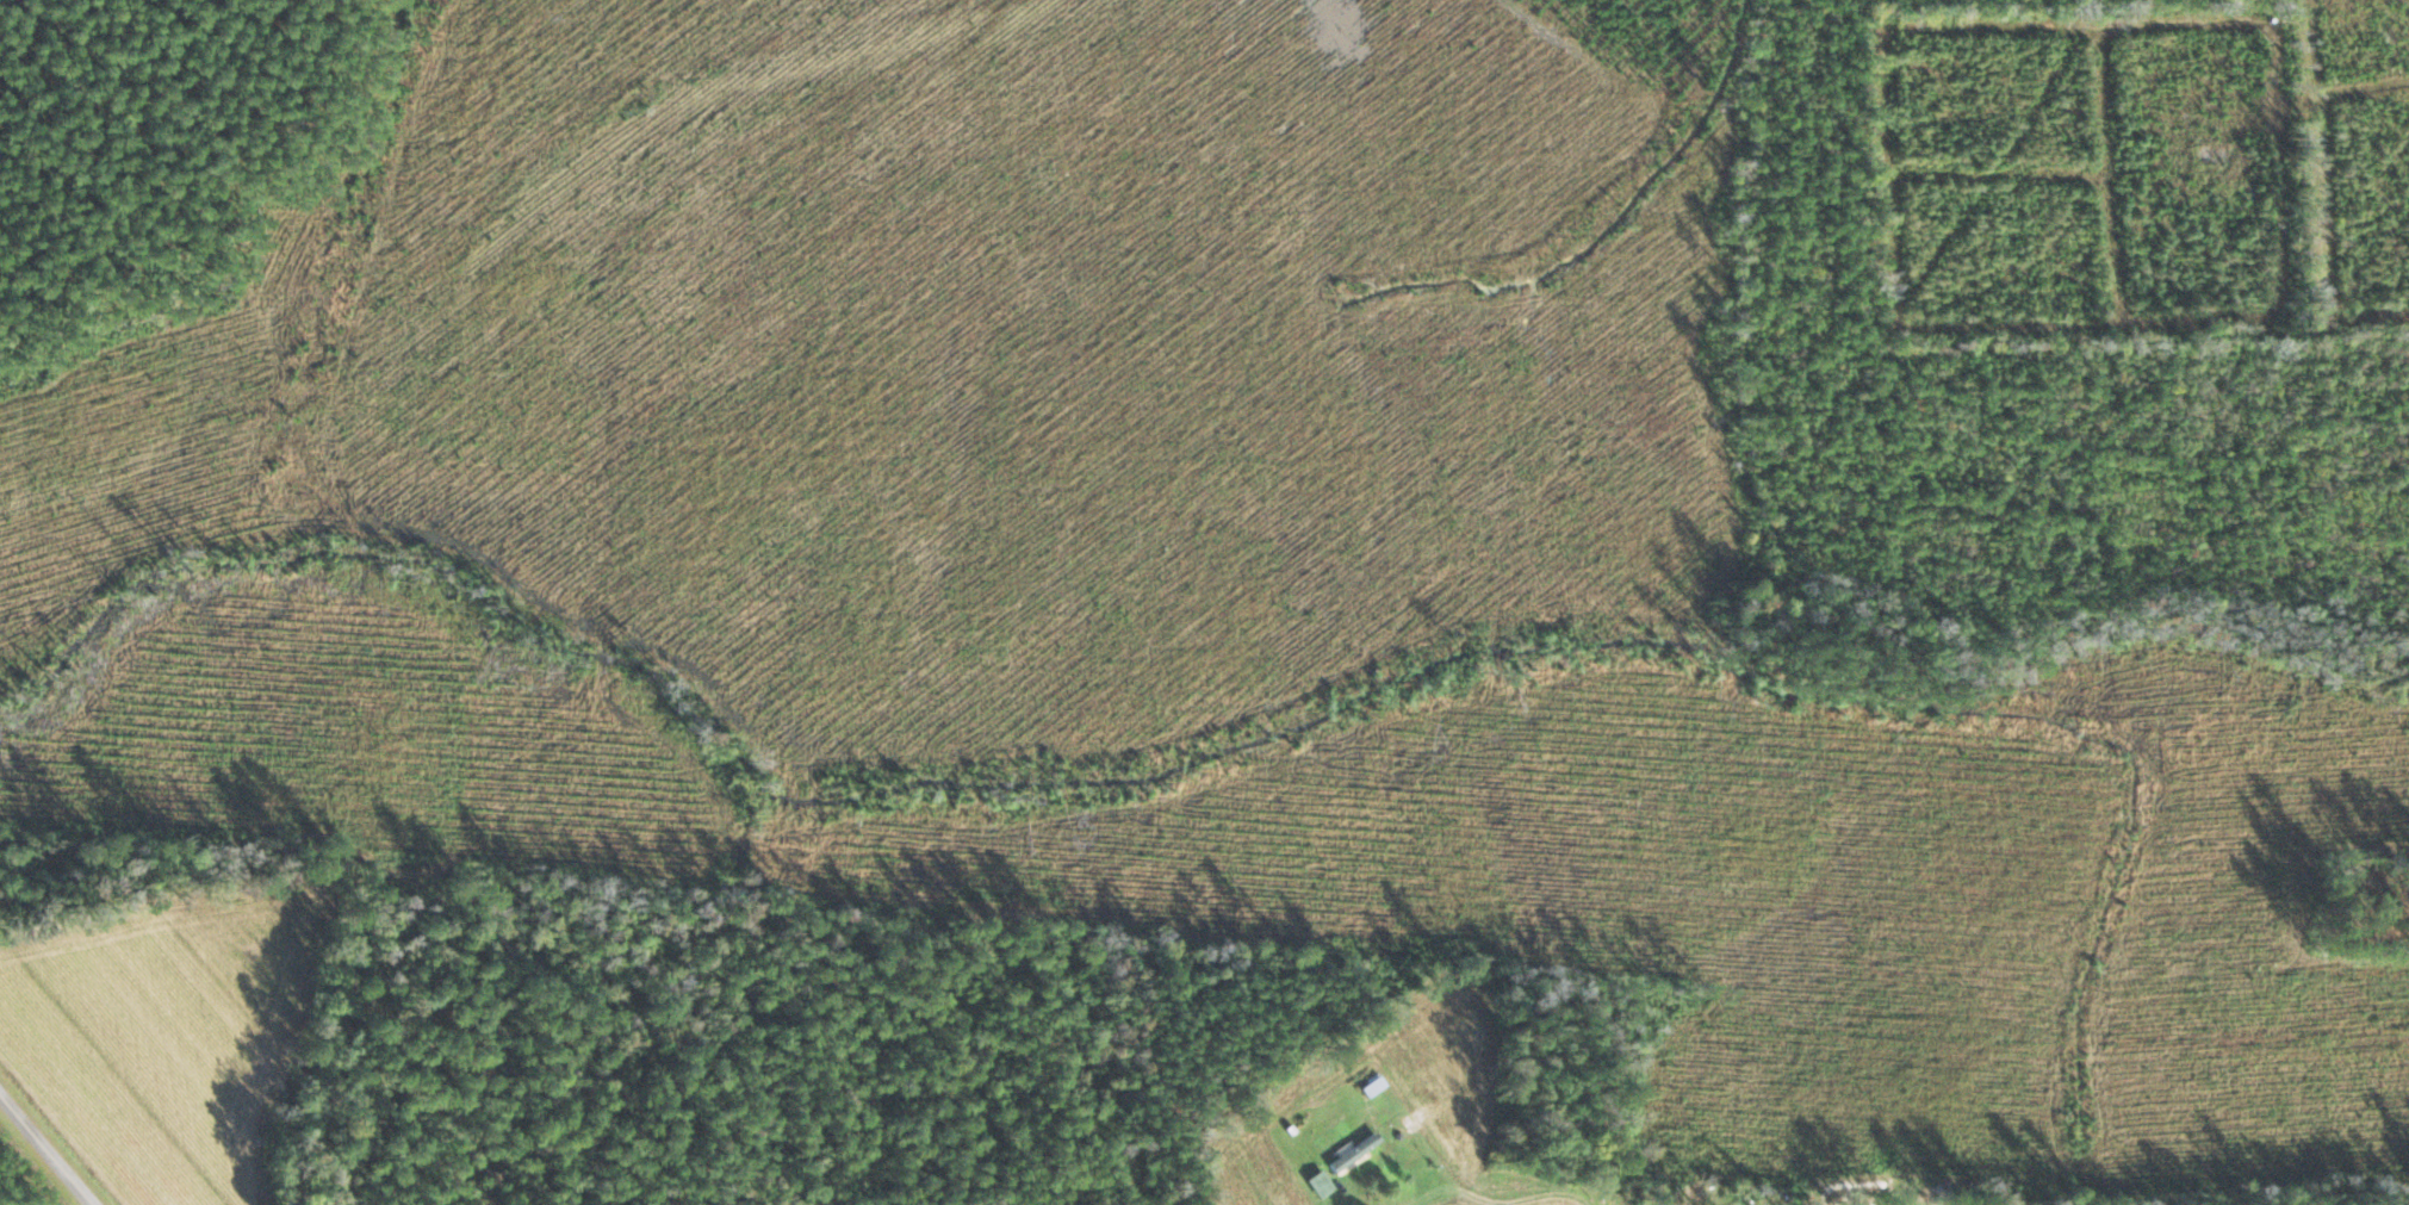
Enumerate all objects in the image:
park: (2371, 895)
building: (1373, 1088)
road: (46, 1149)
building: (1354, 1154)

